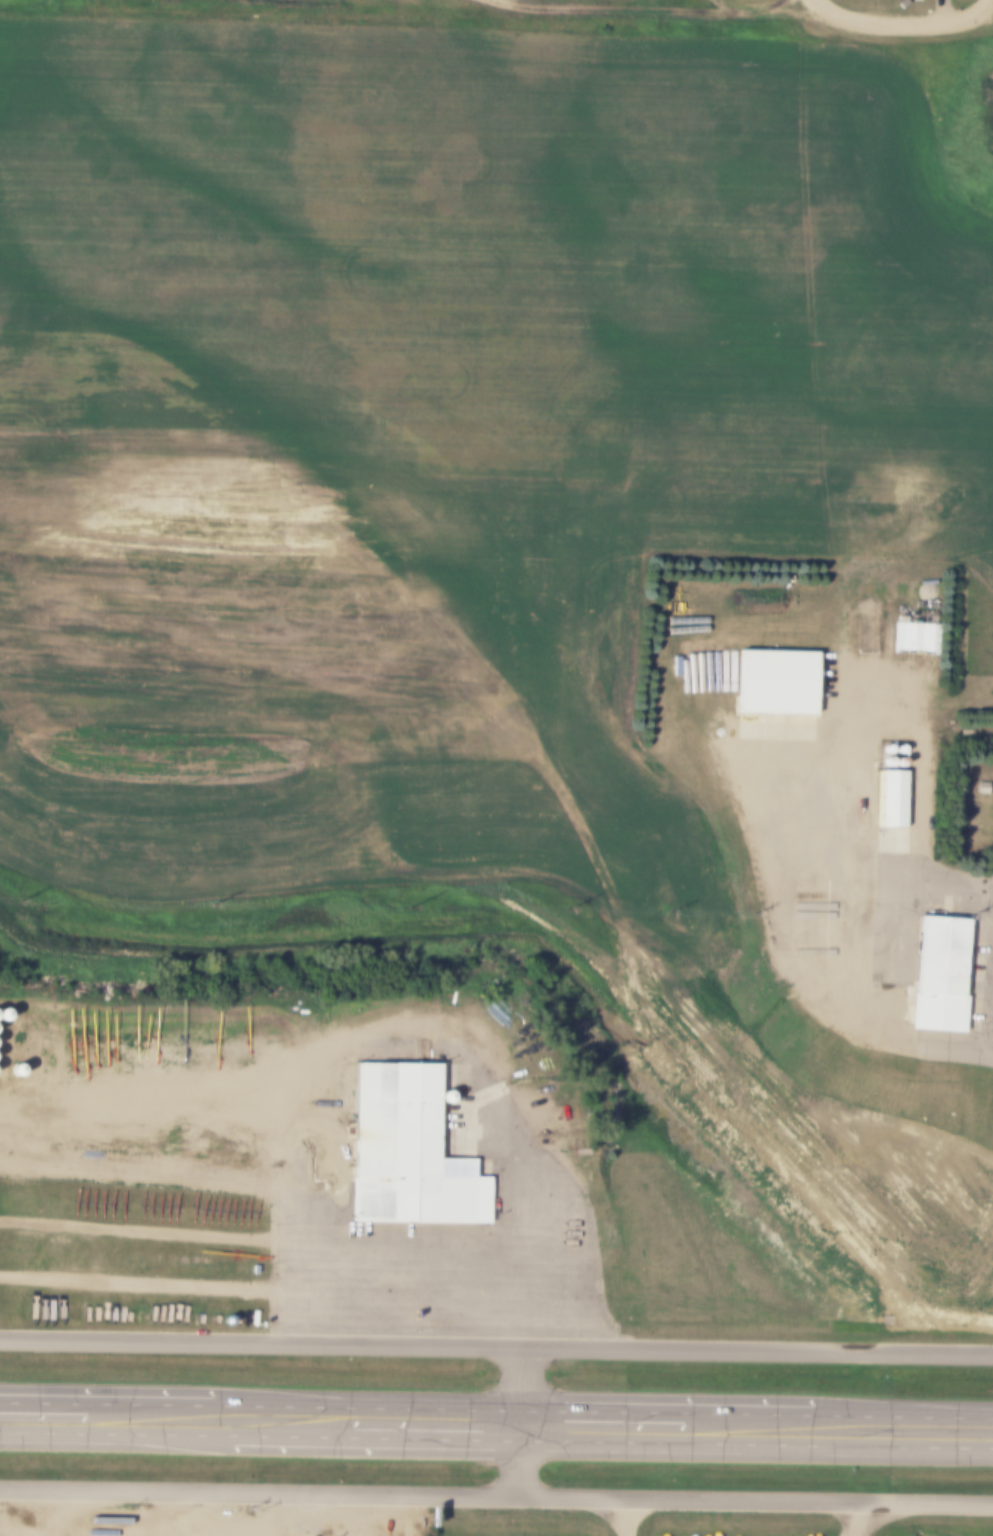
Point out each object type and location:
road: (991, 1)
road: (722, 2)
road: (643, 3)
road: (826, 5)
quarry: (377, 9)
road: (913, 16)
building: (919, 640)
building: (774, 676)
road: (802, 757)
building: (981, 787)
building: (892, 793)
road: (945, 881)
building: (937, 975)
road: (144, 1113)
building: (402, 1143)
road: (358, 1283)
road: (496, 1343)
road: (496, 1412)
road: (523, 1421)
road: (496, 1443)
road: (496, 1496)
road: (143, 1512)
road: (632, 1515)
road: (864, 1517)

